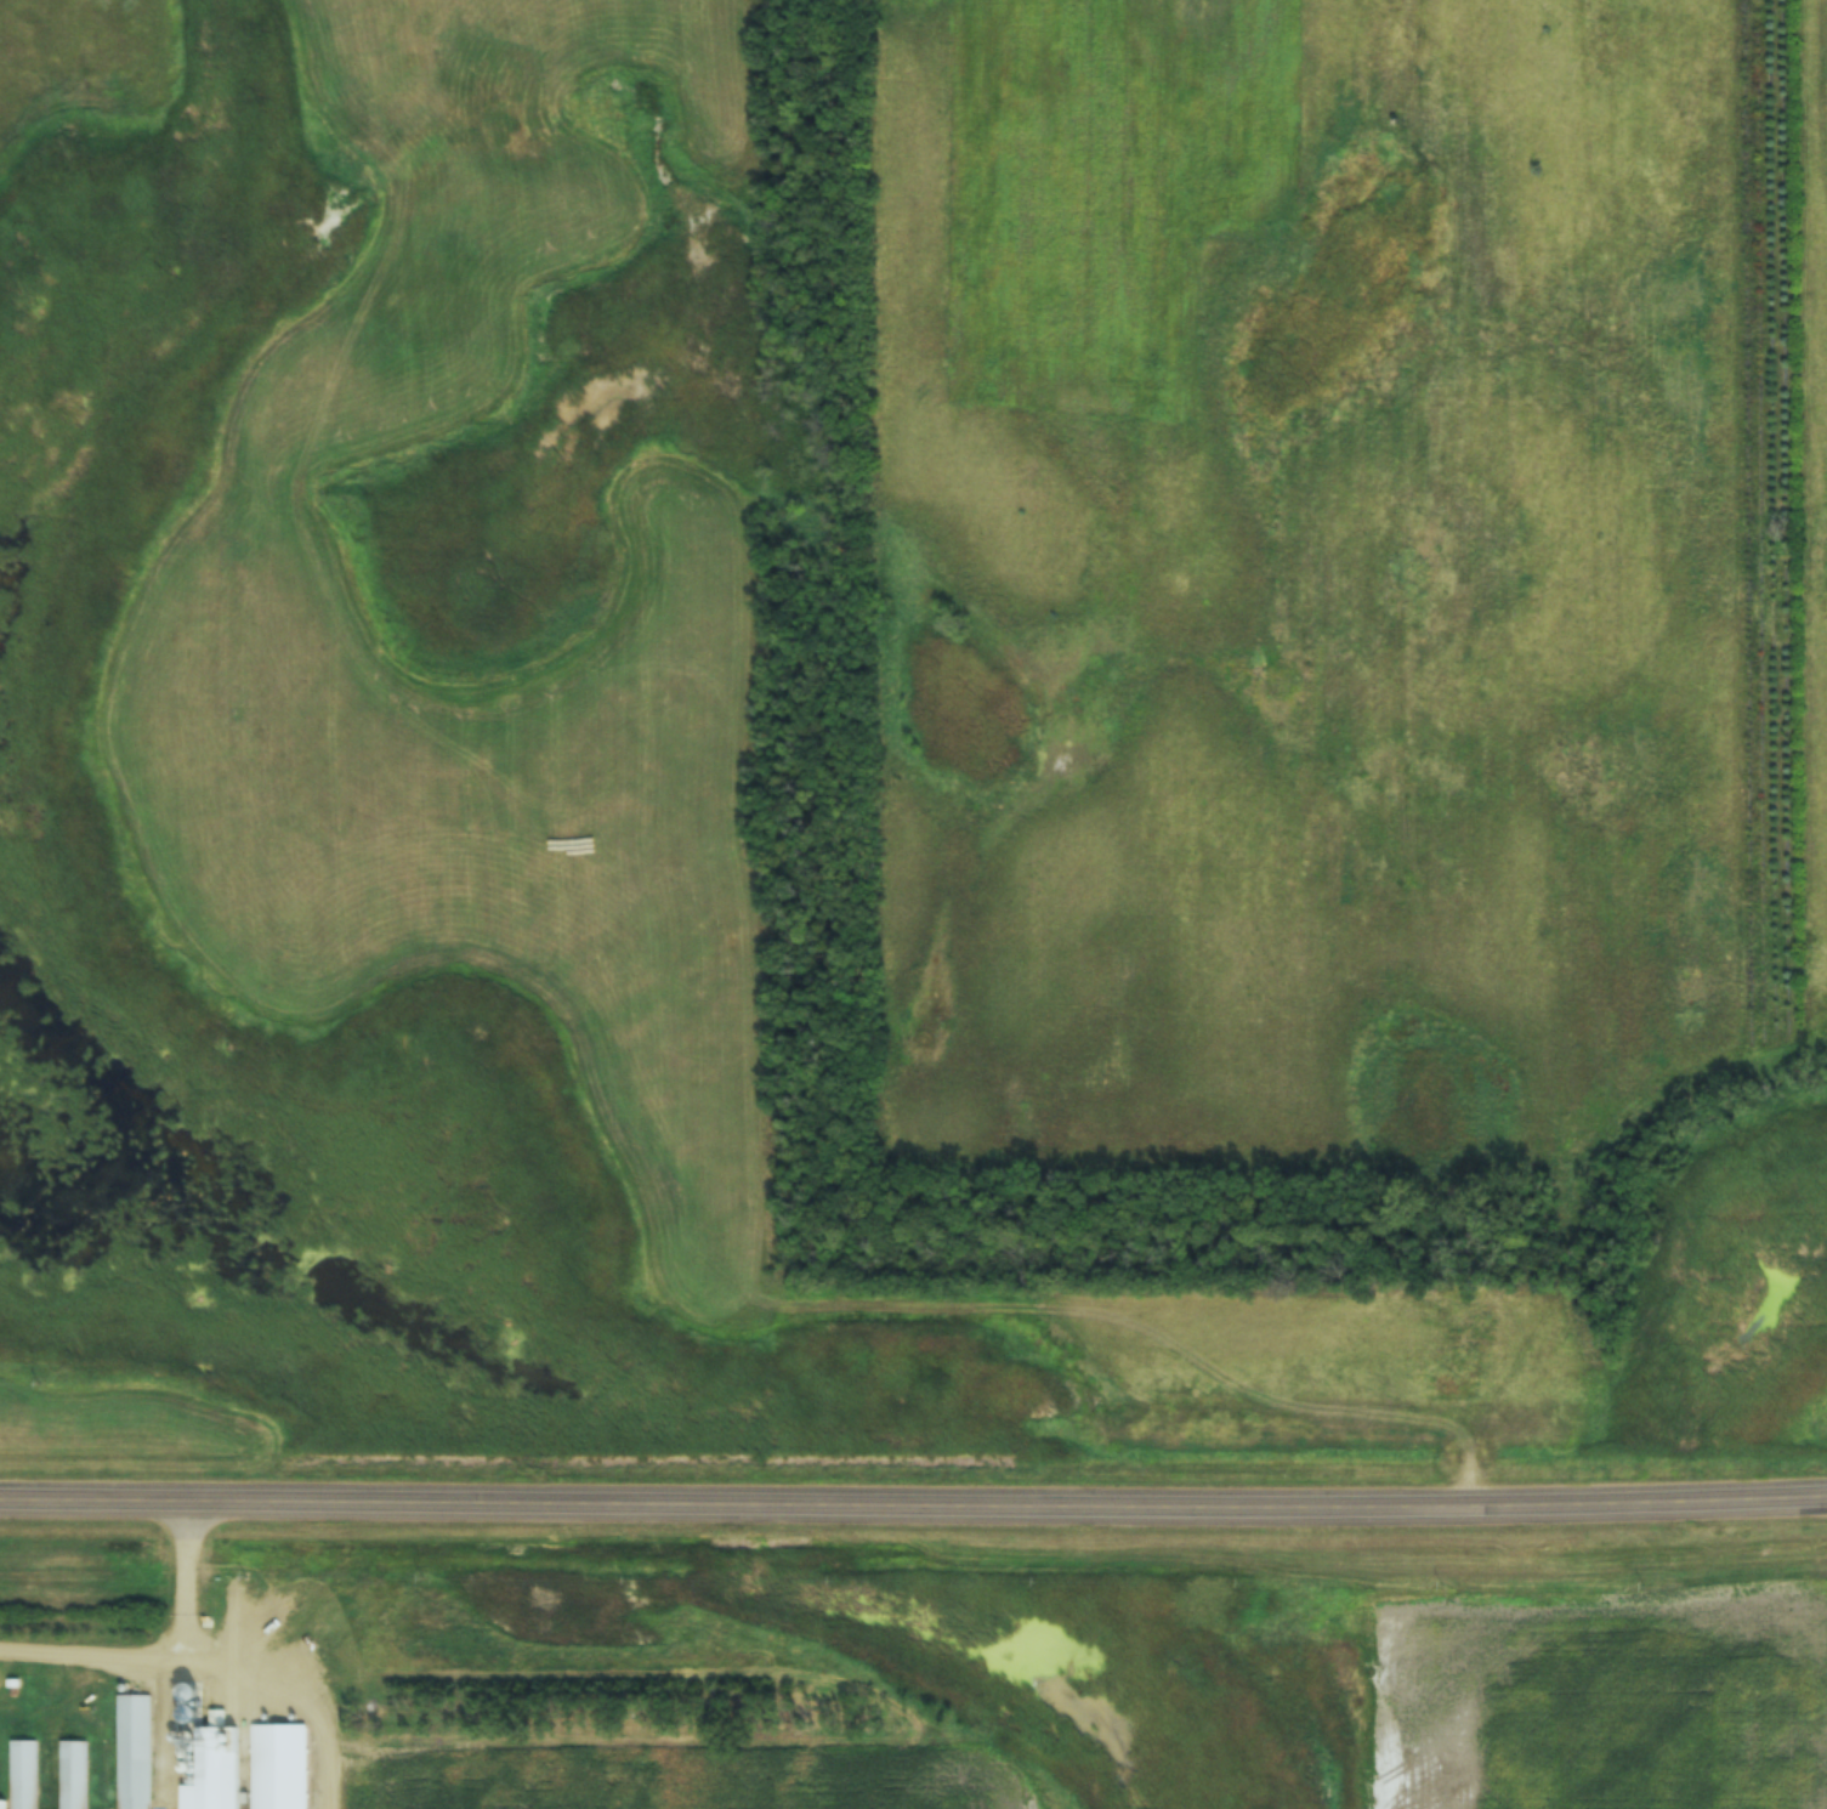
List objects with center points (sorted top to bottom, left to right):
road: (913, 1499)
building: (188, 1713)
building: (134, 1752)
building: (279, 1769)
building: (23, 1775)
building: (74, 1775)
building: (1, 1804)

